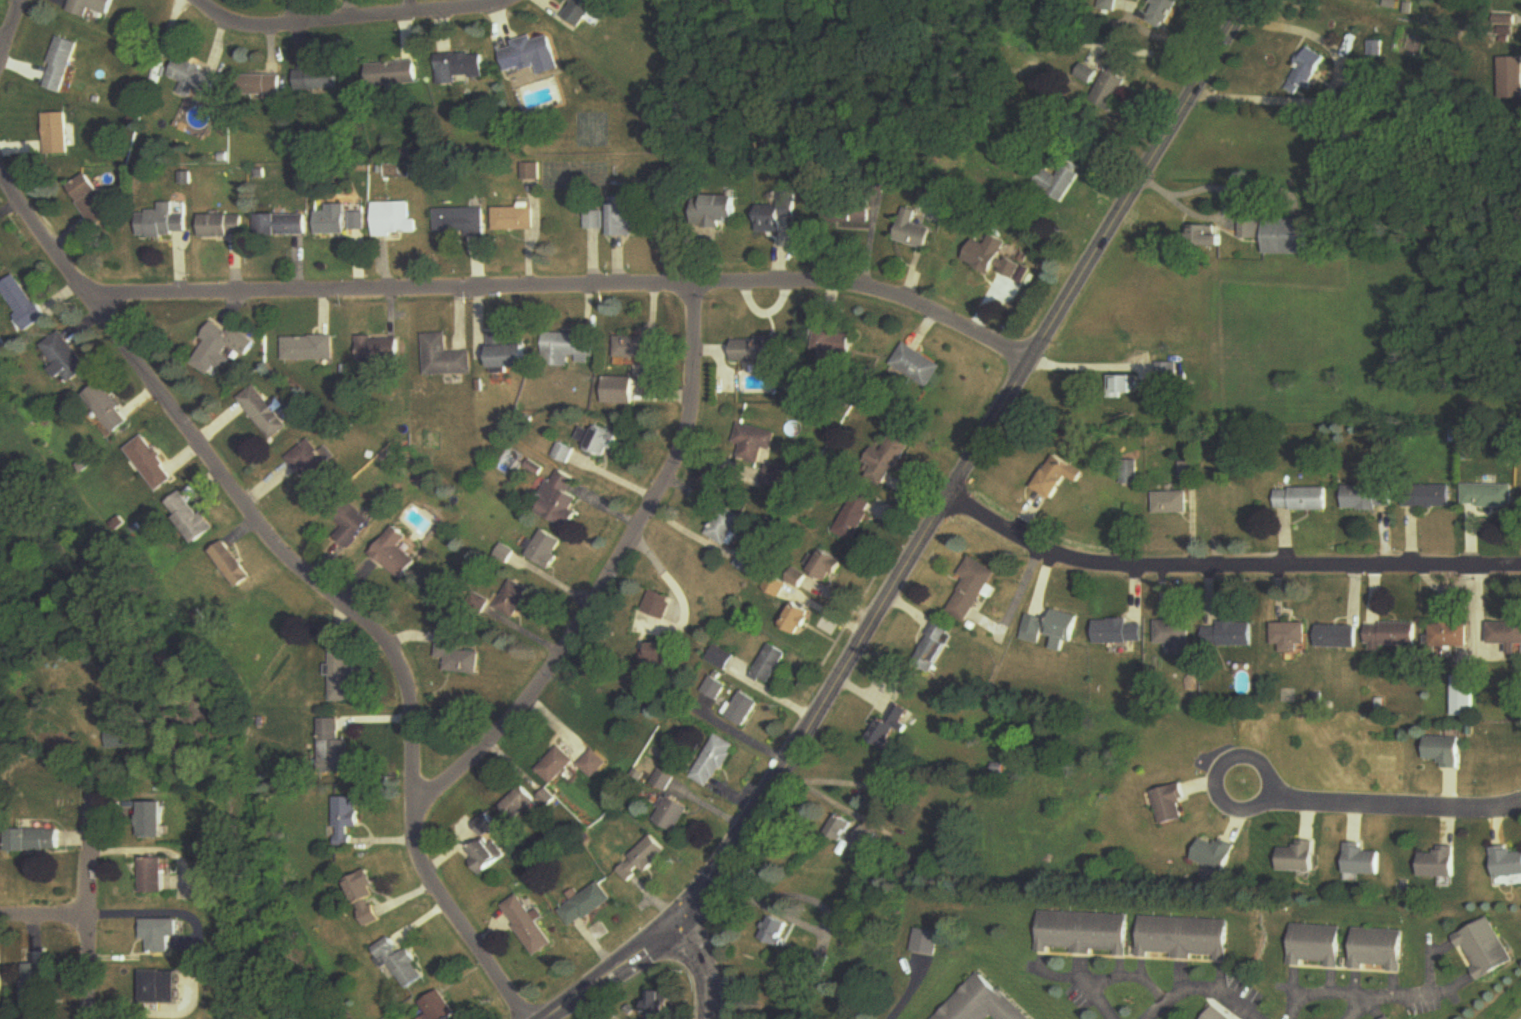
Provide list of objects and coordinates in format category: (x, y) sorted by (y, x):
building: (1102, 4)
building: (91, 7)
building: (578, 11)
building: (1160, 12)
road: (351, 19)
road: (9, 25)
road: (1156, 49)
building: (531, 56)
building: (61, 66)
building: (460, 66)
building: (1305, 73)
building: (395, 75)
building: (1086, 75)
building: (194, 79)
building: (1511, 79)
building: (319, 80)
building: (1110, 83)
building: (260, 85)
road: (1332, 86)
building: (56, 135)
building: (1057, 183)
building: (94, 202)
building: (714, 212)
building: (776, 214)
building: (847, 214)
building: (626, 219)
building: (398, 220)
building: (516, 220)
building: (464, 222)
building: (166, 223)
building: (361, 223)
building: (335, 224)
building: (284, 226)
building: (224, 228)
building: (1253, 229)
building: (912, 232)
building: (1291, 237)
building: (1206, 238)
building: (989, 256)
road: (566, 288)
building: (20, 302)
building: (834, 345)
building: (2, 348)
building: (632, 348)
building: (223, 349)
building: (312, 349)
building: (571, 350)
building: (762, 350)
building: (382, 352)
building: (512, 355)
building: (64, 358)
building: (448, 358)
road: (1091, 361)
building: (916, 366)
building: (1169, 374)
building: (1125, 386)
building: (620, 390)
building: (106, 408)
building: (266, 413)
building: (599, 441)
building: (754, 442)
building: (887, 458)
building: (149, 464)
road: (970, 464)
building: (315, 468)
building: (1056, 478)
building: (1129, 480)
building: (1490, 496)
building: (1370, 497)
building: (1430, 497)
building: (560, 499)
building: (1230, 499)
building: (1305, 500)
building: (1172, 503)
building: (855, 517)
building: (188, 518)
building: (353, 522)
building: (726, 526)
building: (545, 549)
building: (397, 555)
building: (747, 562)
building: (231, 566)
building: (826, 568)
road: (1227, 569)
road: (609, 573)
road: (311, 580)
building: (797, 580)
road: (672, 586)
building: (973, 589)
building: (514, 601)
building: (659, 605)
building: (795, 620)
building: (1053, 629)
building: (1120, 633)
building: (1231, 636)
building: (1451, 636)
building: (1176, 637)
building: (1506, 637)
building: (1292, 638)
building: (1339, 638)
building: (1394, 638)
building: (934, 648)
building: (458, 655)
building: (659, 656)
building: (769, 665)
building: (345, 676)
building: (715, 689)
building: (1462, 697)
building: (742, 709)
building: (891, 725)
road: (739, 733)
building: (119, 739)
building: (334, 750)
building: (1444, 751)
building: (713, 762)
building: (590, 764)
building: (554, 767)
road: (1210, 768)
building: (663, 781)
building: (546, 798)
road: (1401, 798)
building: (518, 804)
building: (1169, 804)
building: (672, 814)
road: (877, 815)
building: (150, 820)
building: (346, 820)
building: (485, 828)
building: (839, 829)
building: (34, 840)
building: (864, 840)
building: (1214, 854)
building: (484, 856)
building: (1297, 858)
building: (643, 859)
building: (1362, 860)
building: (1505, 862)
building: (1439, 863)
building: (153, 875)
building: (365, 897)
building: (586, 905)
road: (767, 905)
road: (89, 909)
road: (44, 914)
road: (145, 914)
building: (528, 925)
building: (776, 931)
building: (1083, 933)
building: (161, 934)
building: (1183, 938)
building: (925, 942)
building: (1316, 946)
building: (1377, 949)
building: (1482, 949)
building: (849, 953)
building: (403, 964)
road: (707, 969)
road: (617, 973)
road: (1064, 973)
road: (1111, 974)
building: (2, 980)
building: (38, 983)
road: (1199, 984)
road: (1447, 984)
building: (163, 988)
road: (905, 991)
road: (1378, 991)
building: (976, 1002)
building: (658, 1005)
road: (1357, 1005)
building: (439, 1007)
building: (1215, 1014)
road: (1519, 1017)
building: (1388, 1018)

